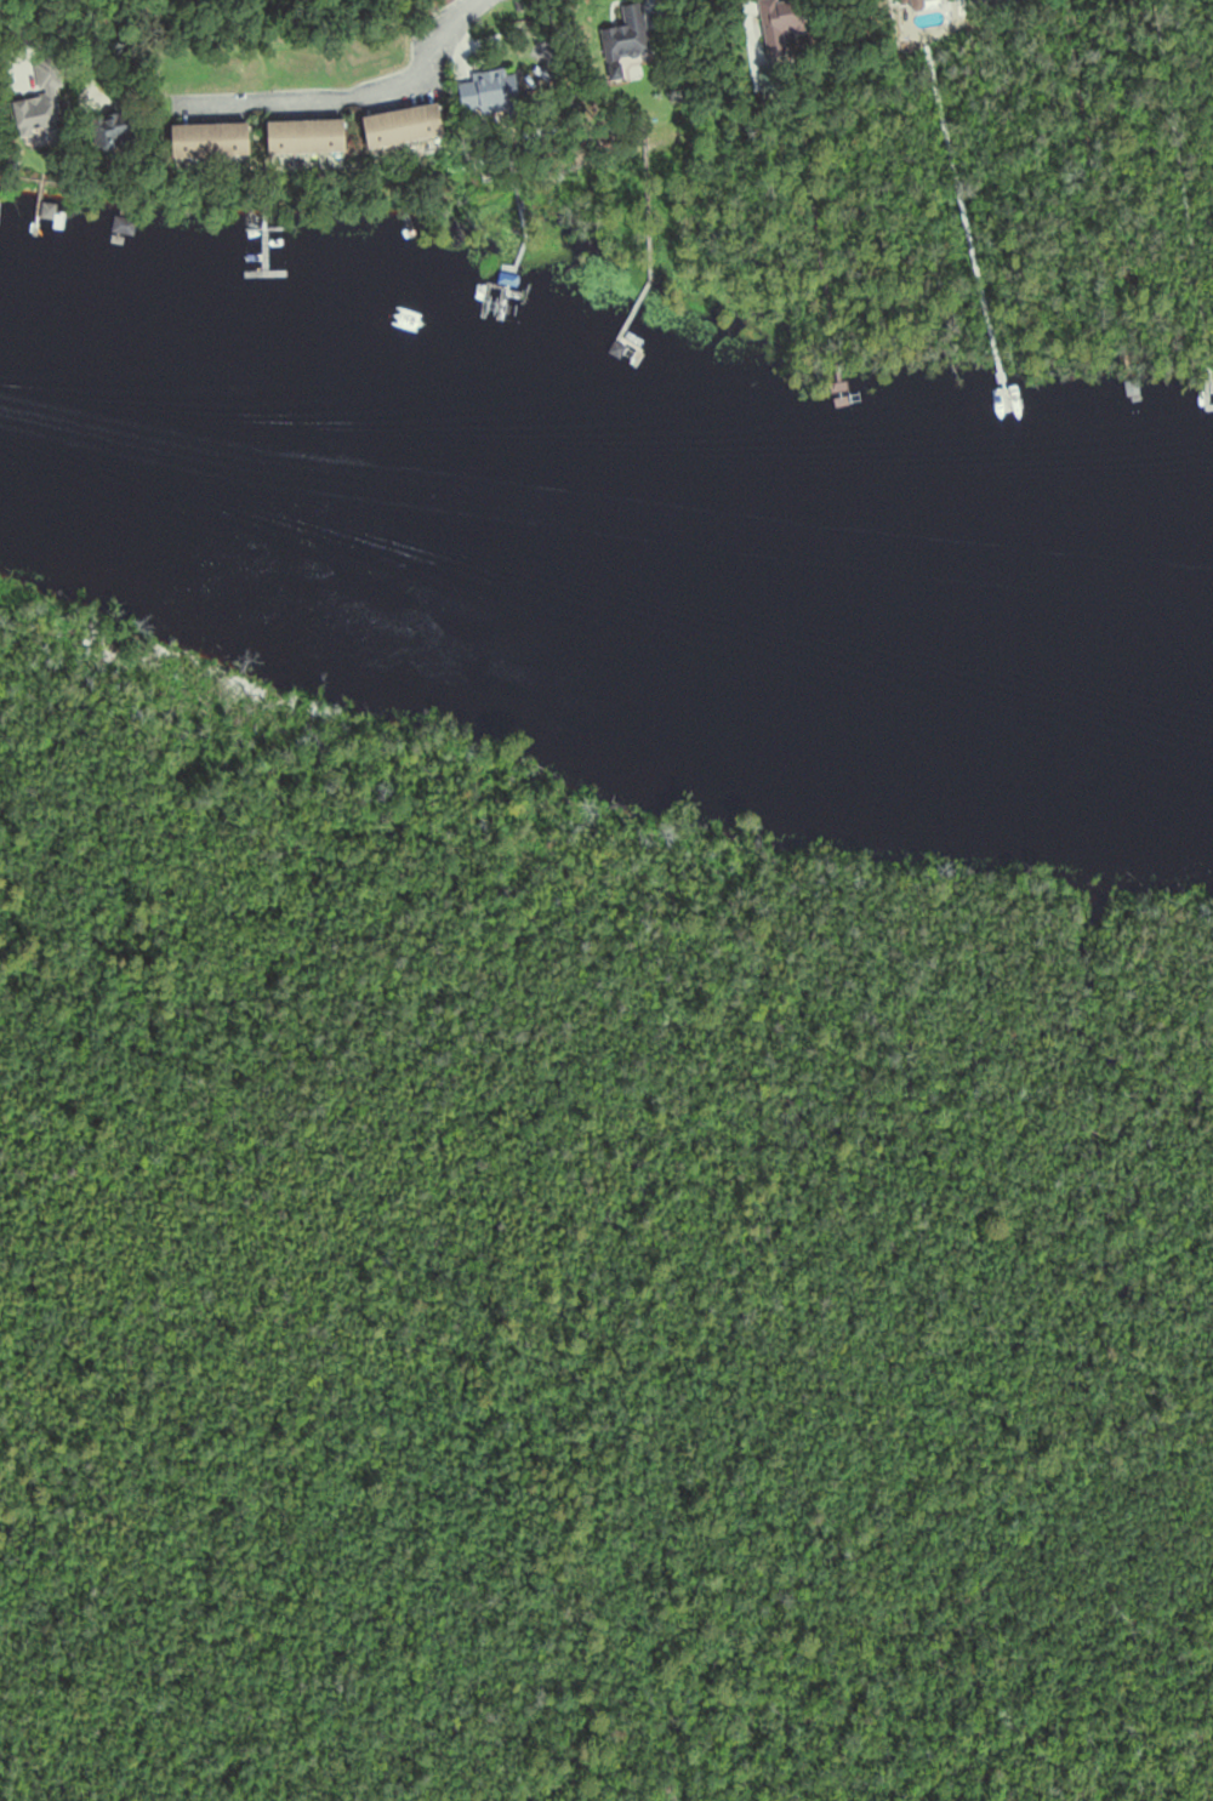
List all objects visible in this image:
road: (454, 16)
road: (91, 17)
road: (21, 22)
building: (785, 29)
building: (627, 35)
building: (34, 90)
building: (494, 92)
road: (328, 98)
building: (119, 122)
building: (406, 125)
building: (309, 136)
building: (213, 139)
building: (124, 226)
building: (1132, 386)
river: (604, 525)

